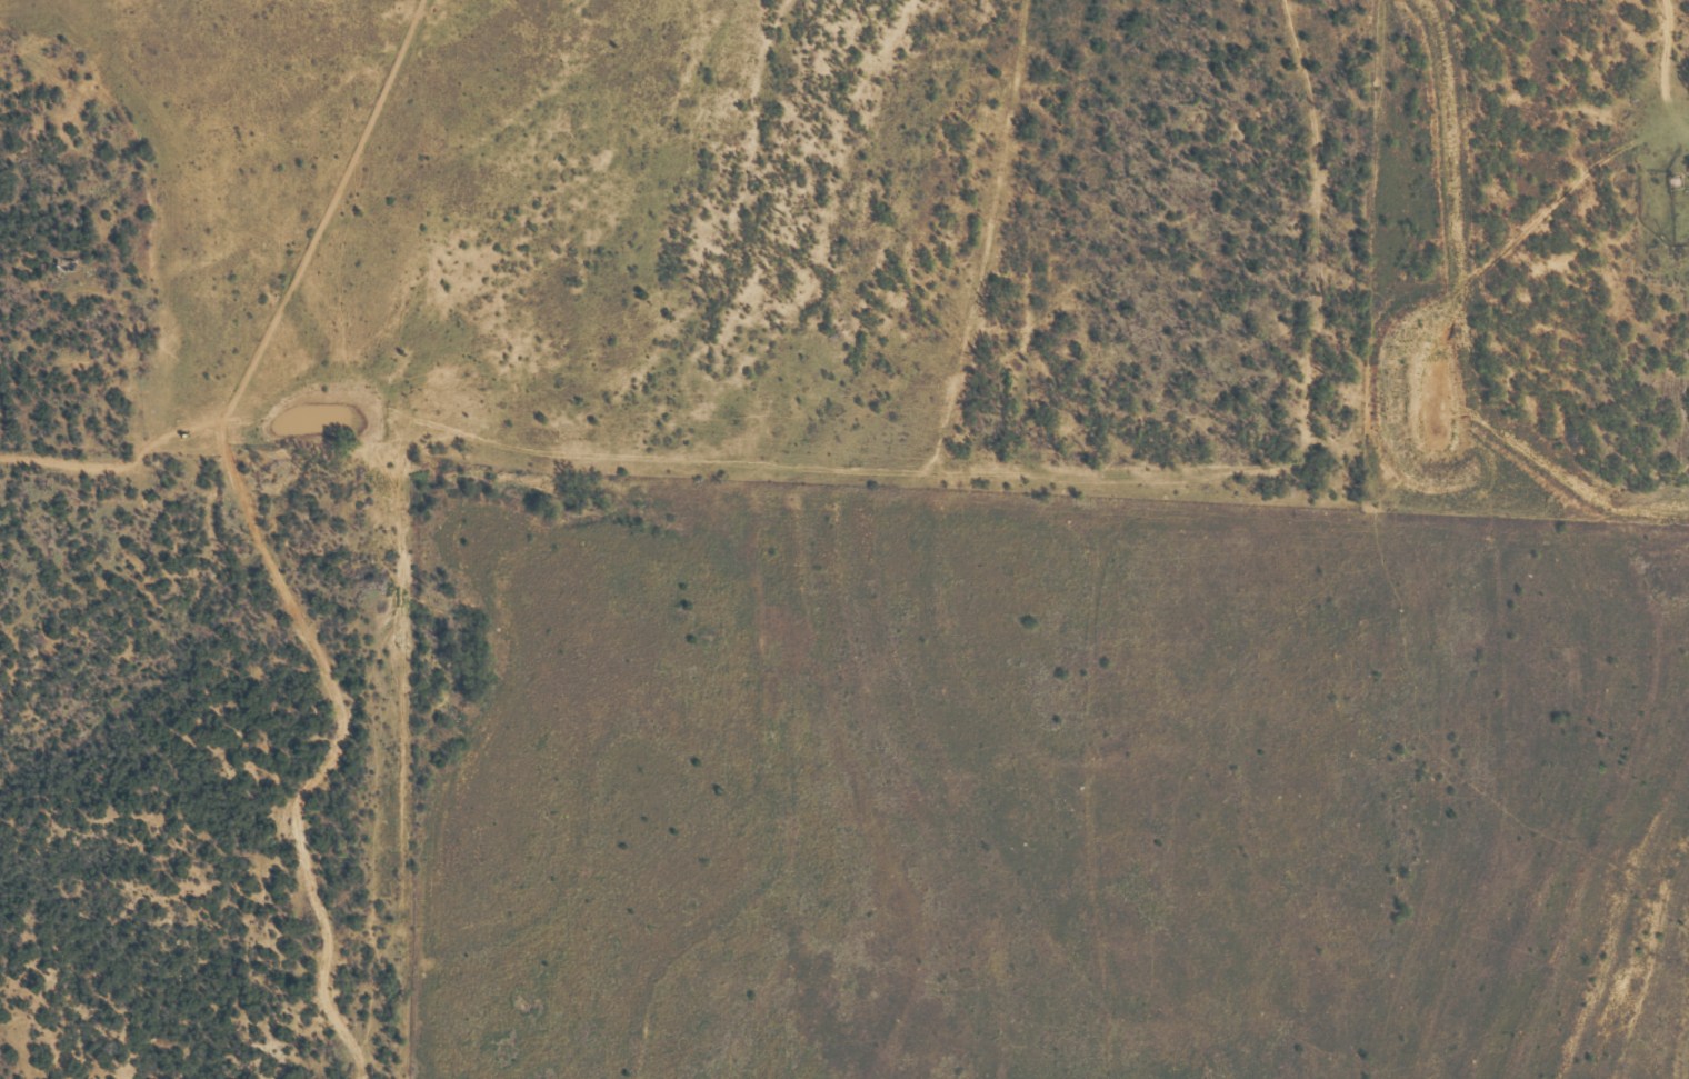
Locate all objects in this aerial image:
road: (1570, 90)

